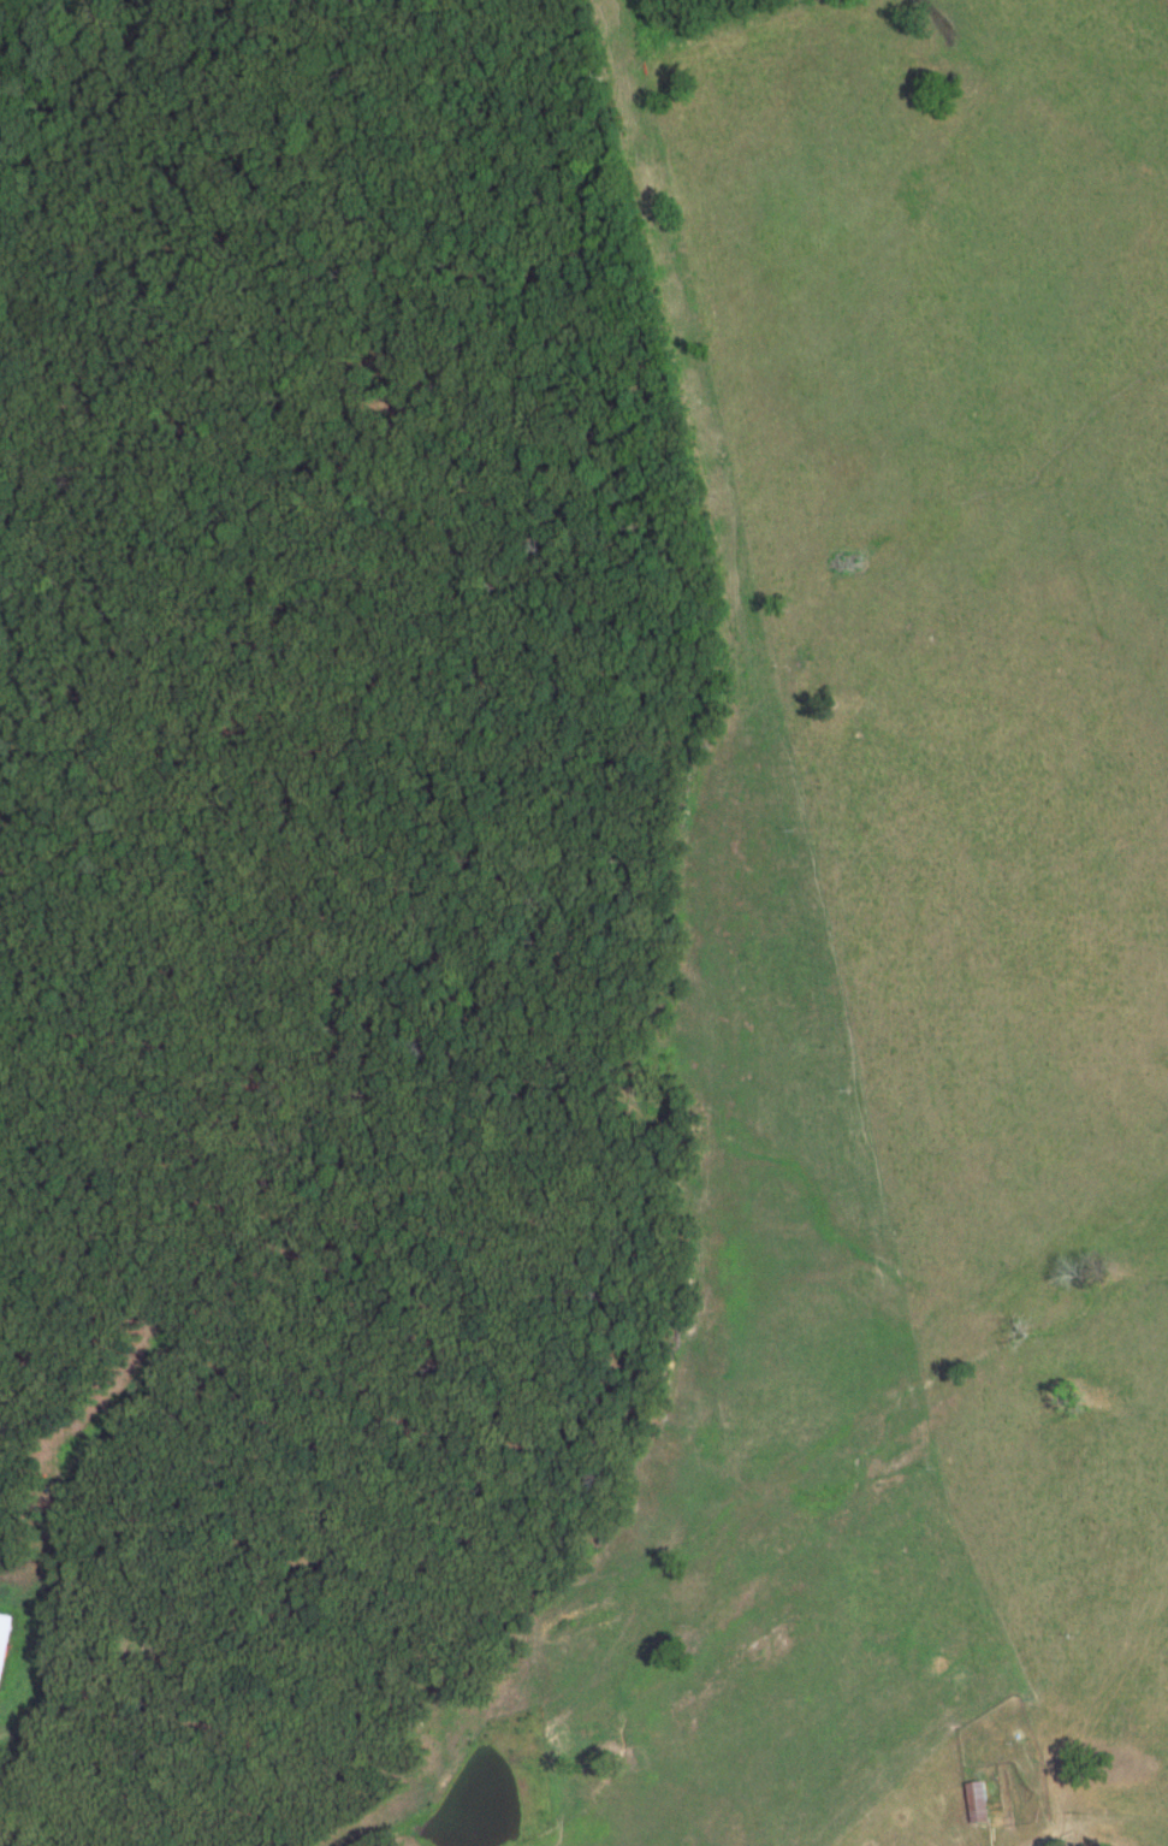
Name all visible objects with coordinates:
building: (4, 1637)
road: (1062, 1785)

